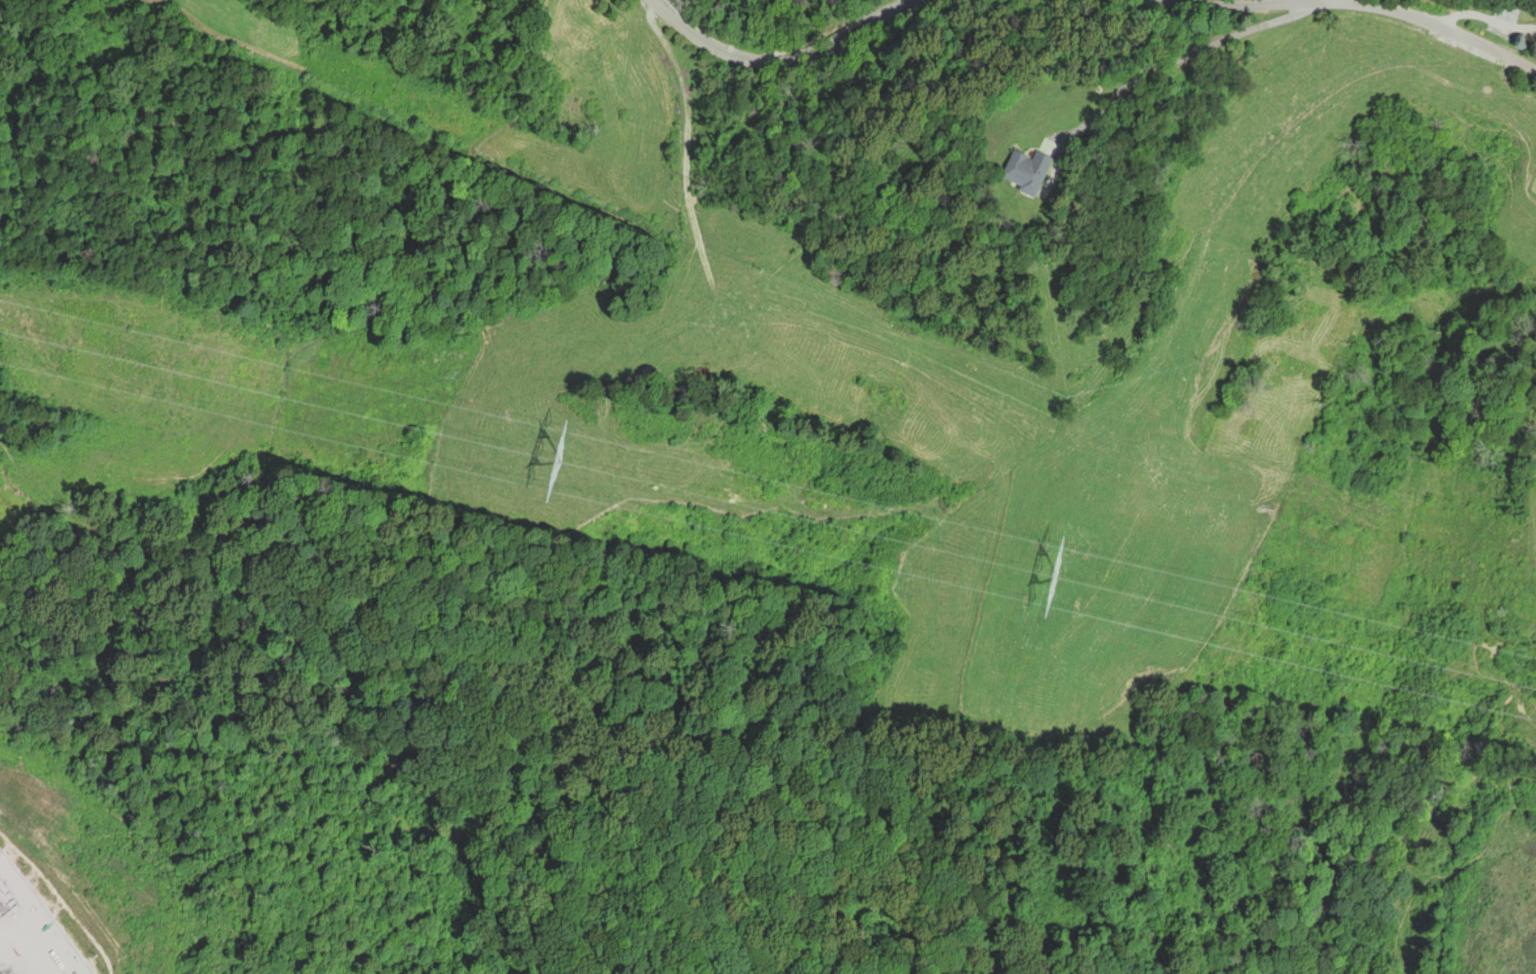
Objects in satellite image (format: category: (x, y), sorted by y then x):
road: (1246, 3)
building: (1506, 11)
road: (1451, 32)
road: (773, 57)
road: (1183, 59)
building: (1022, 173)
power tower: (556, 462)
power tower: (1055, 579)

